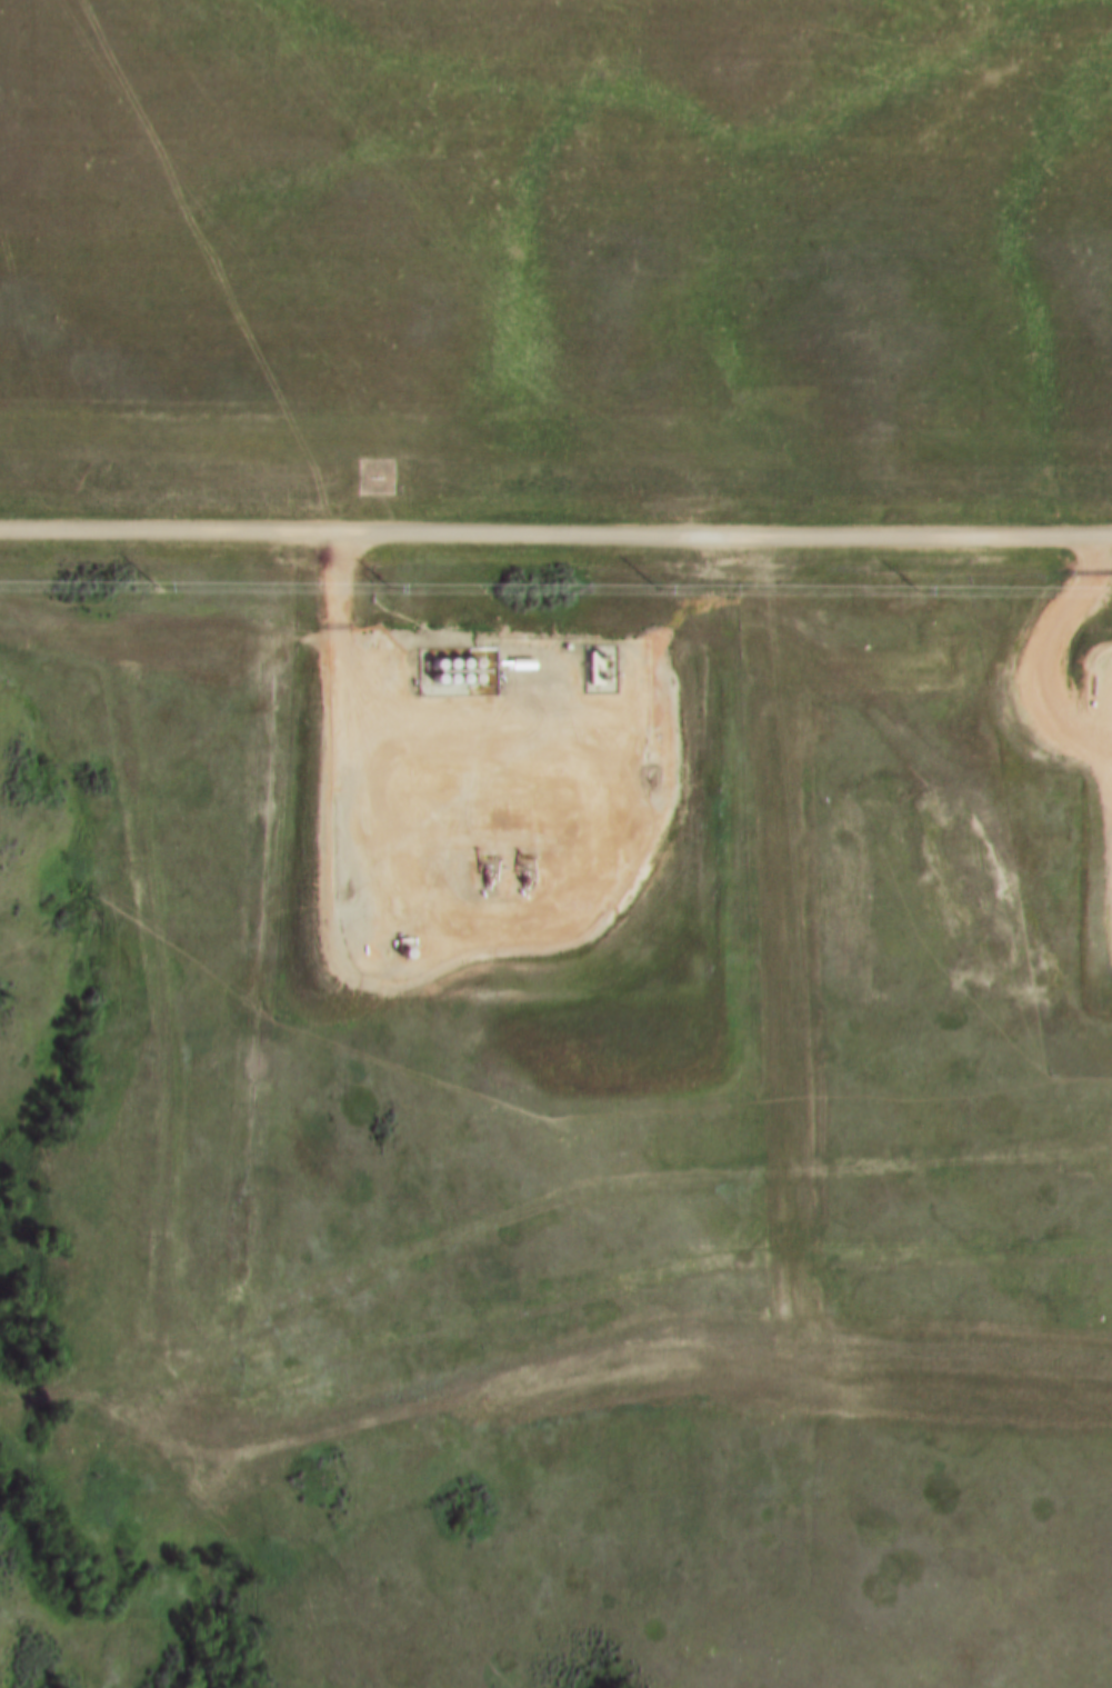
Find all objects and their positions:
road: (555, 535)
road: (1052, 637)
building: (563, 645)
building: (517, 661)
building: (591, 667)
road: (1092, 730)
road: (1092, 755)
petroleum well: (482, 873)
petroleum well: (520, 873)
road: (494, 911)

